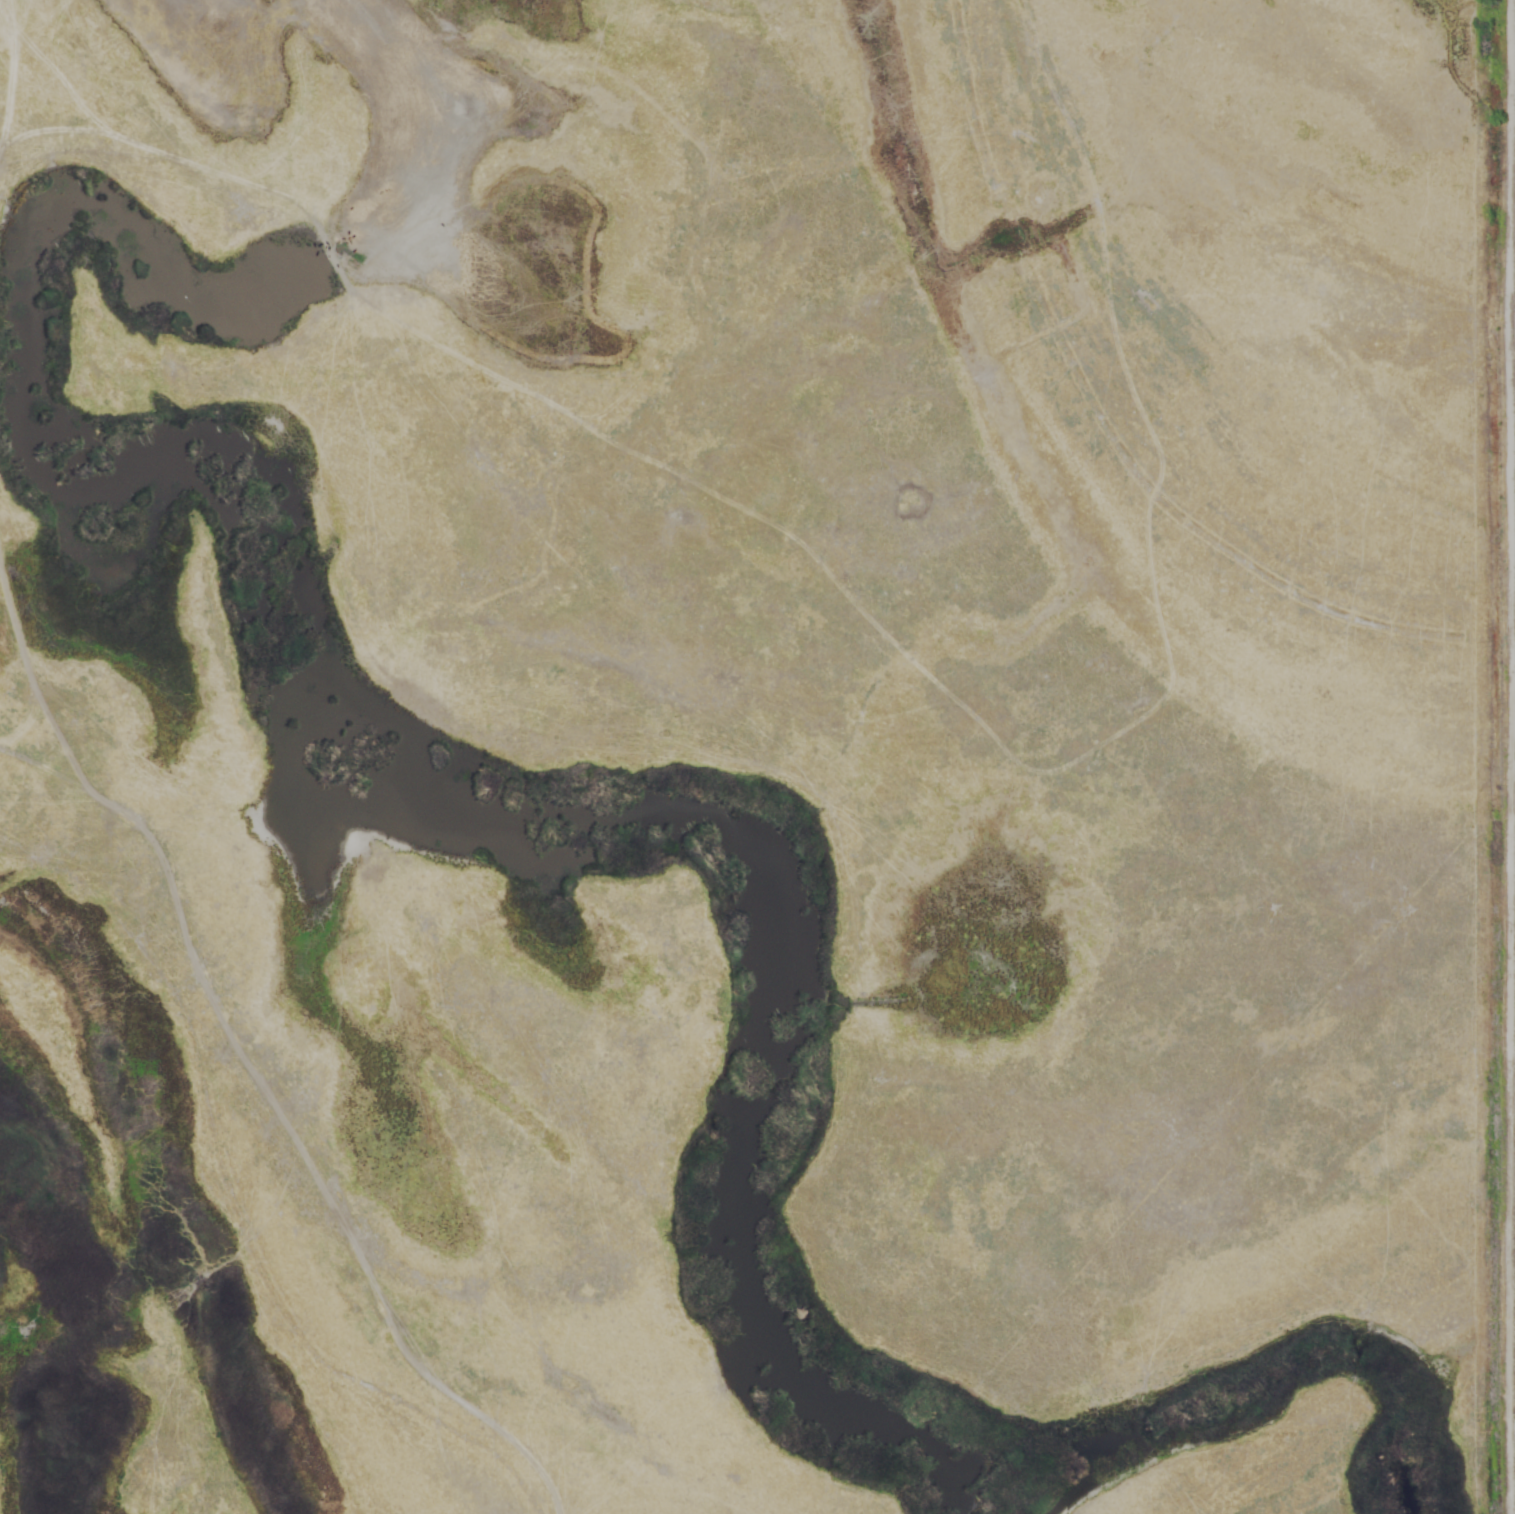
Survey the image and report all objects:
road: (1510, 162)

